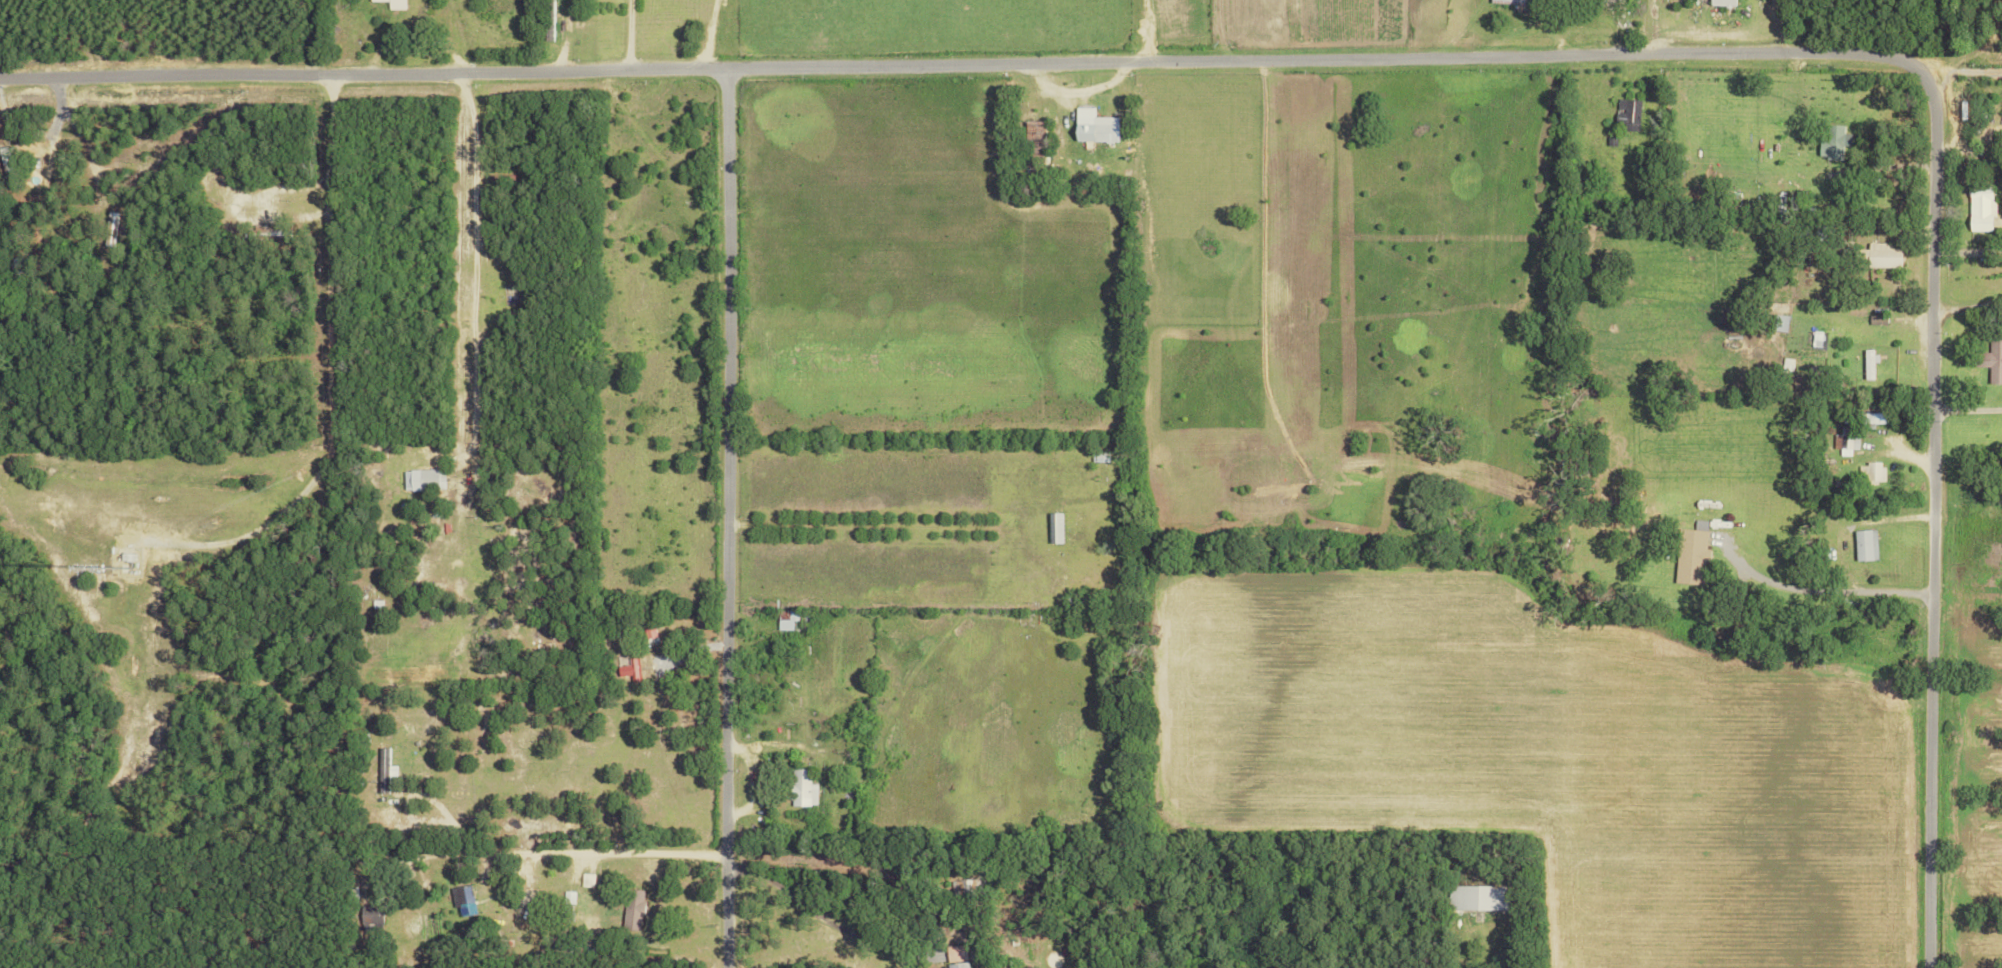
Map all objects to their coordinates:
building: (1511, 2)
building: (1723, 2)
building: (394, 3)
building: (549, 20)
road: (1150, 37)
road: (626, 41)
road: (703, 41)
road: (1414, 69)
road: (1968, 71)
building: (1629, 113)
building: (1095, 126)
building: (1034, 129)
building: (1835, 142)
building: (1981, 207)
building: (112, 228)
building: (1884, 254)
road: (335, 314)
building: (1994, 359)
building: (1870, 363)
road: (1970, 410)
building: (1852, 432)
building: (421, 479)
road: (734, 524)
road: (869, 524)
building: (1054, 527)
building: (1866, 544)
building: (1691, 556)
road: (1825, 588)
building: (787, 619)
building: (629, 669)
building: (382, 769)
building: (802, 789)
road: (560, 851)
building: (586, 880)
building: (1479, 898)
building: (462, 899)
road: (799, 903)
building: (632, 909)
building: (371, 918)
building: (956, 956)

